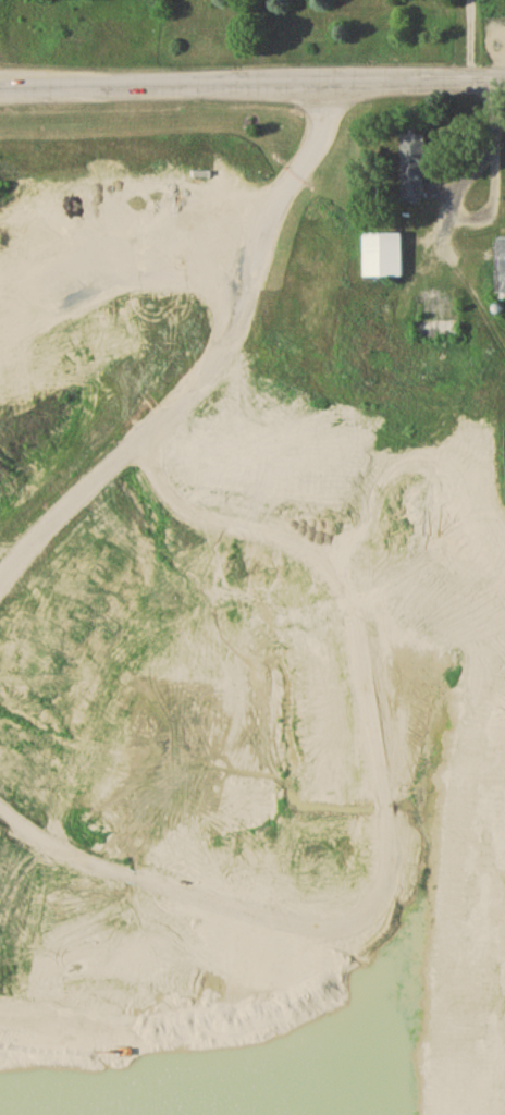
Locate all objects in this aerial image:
road: (469, 40)
road: (251, 86)
road: (471, 161)
building: (414, 169)
building: (385, 258)
building: (502, 270)

